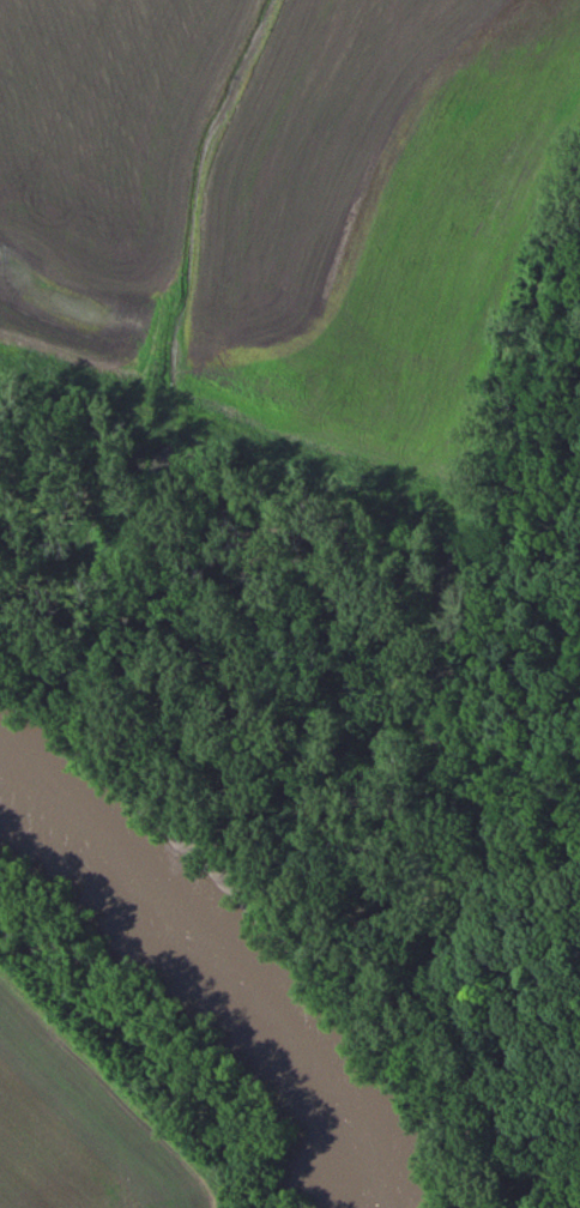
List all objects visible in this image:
river: (210, 971)

